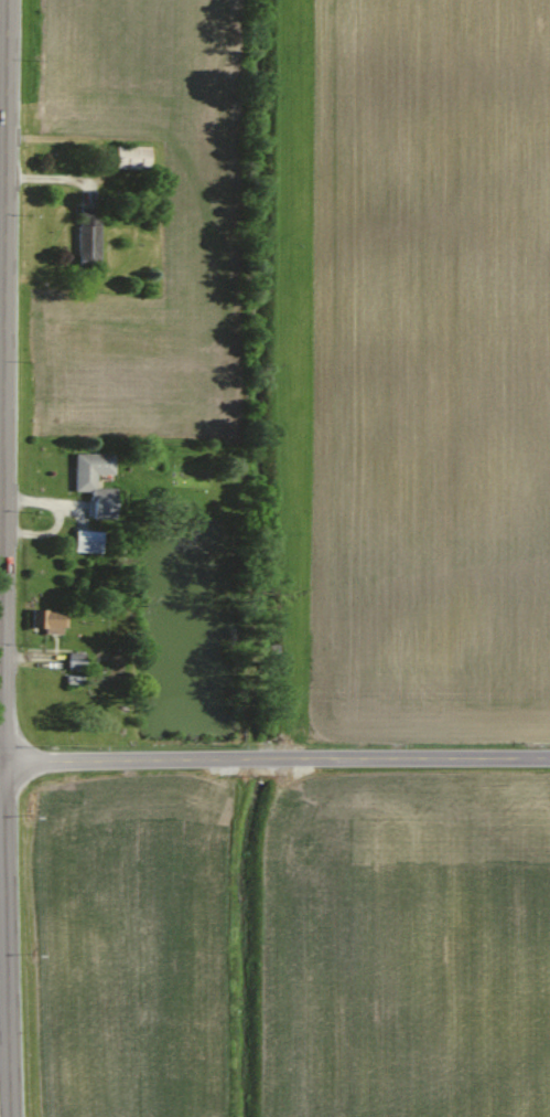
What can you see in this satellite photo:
building: (132, 156)
building: (90, 233)
building: (86, 480)
building: (80, 541)
road: (4, 558)
building: (53, 623)
building: (78, 660)
road: (274, 758)

